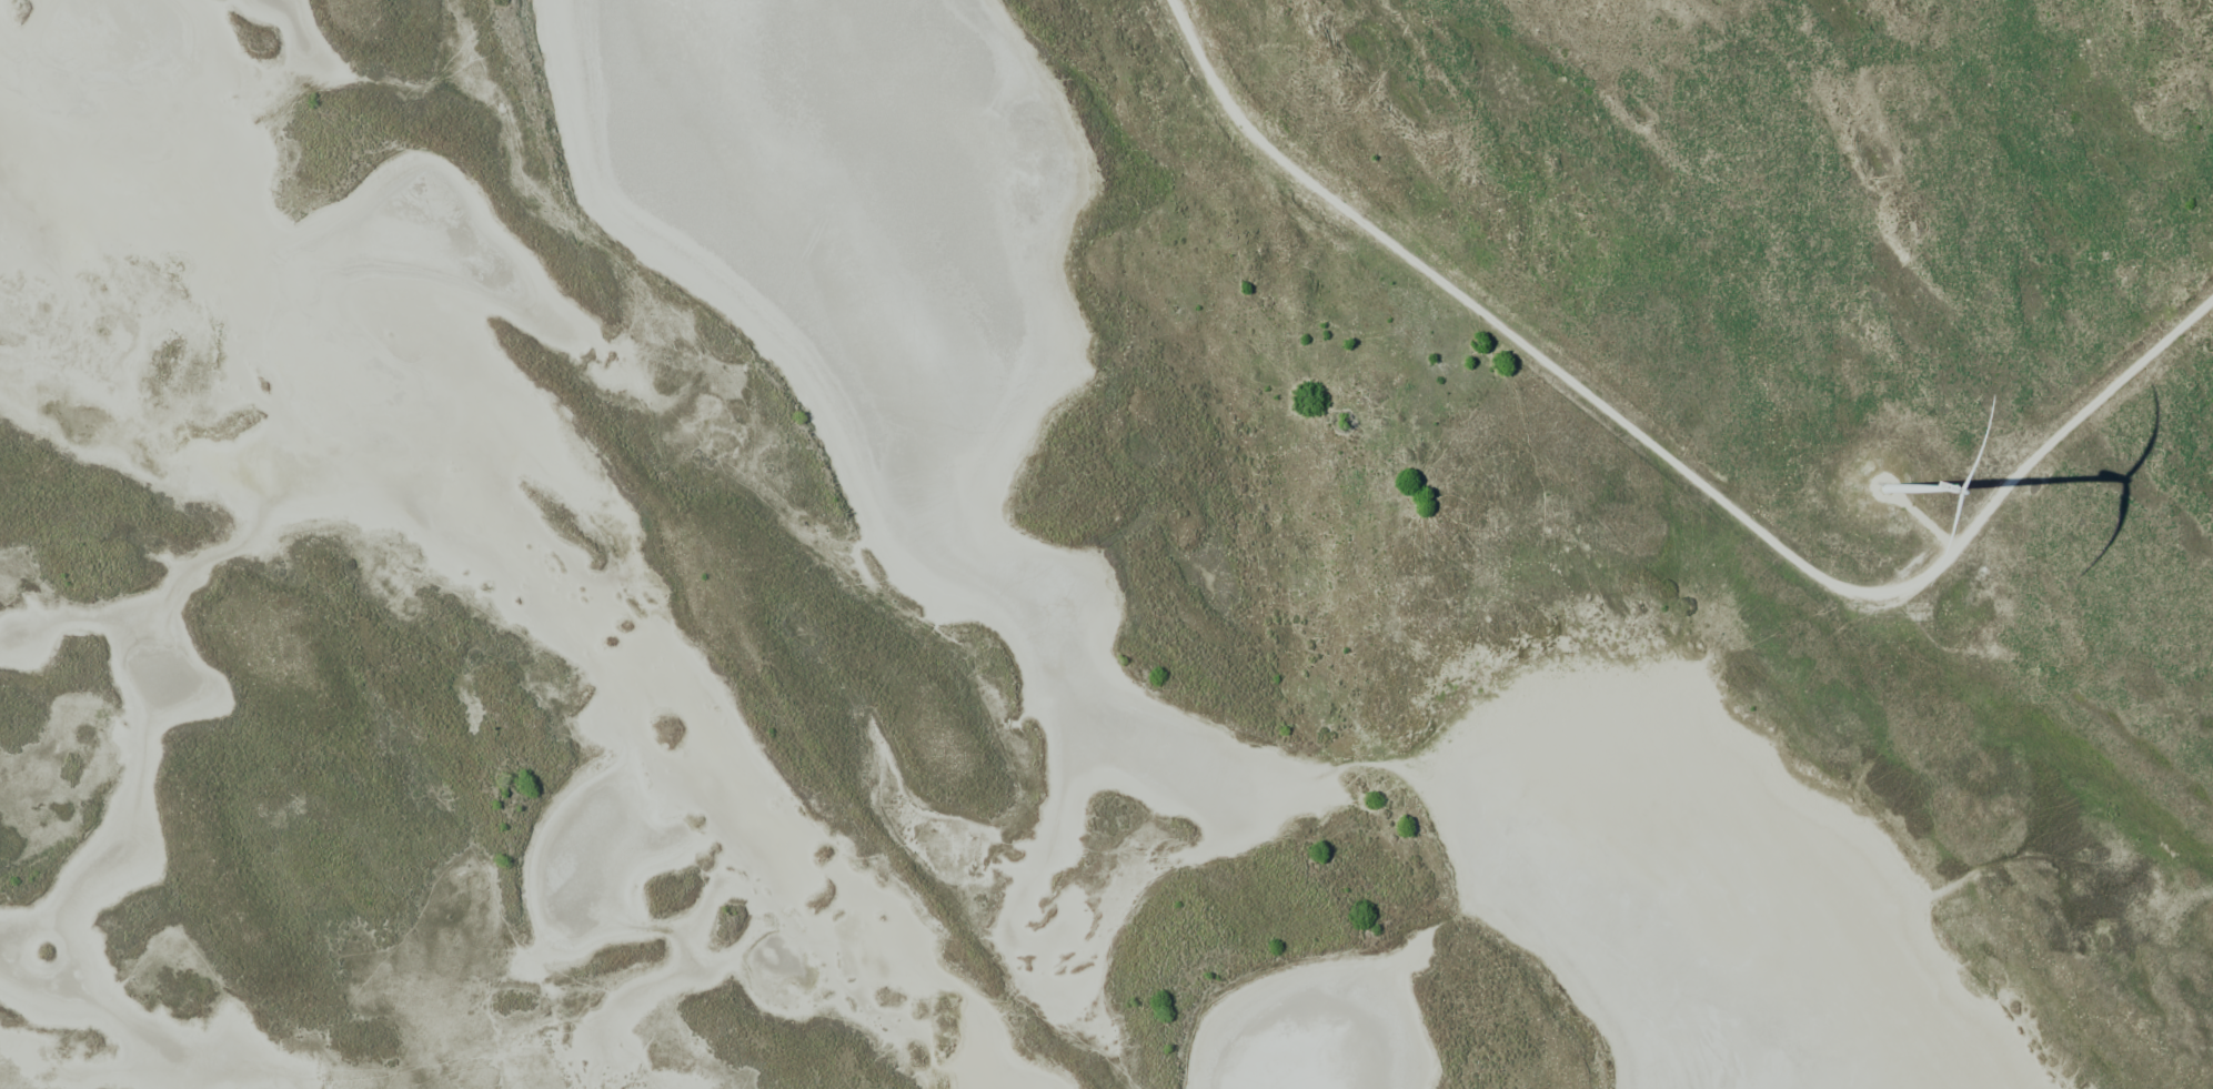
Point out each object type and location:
wind turbine: (1883, 490)

